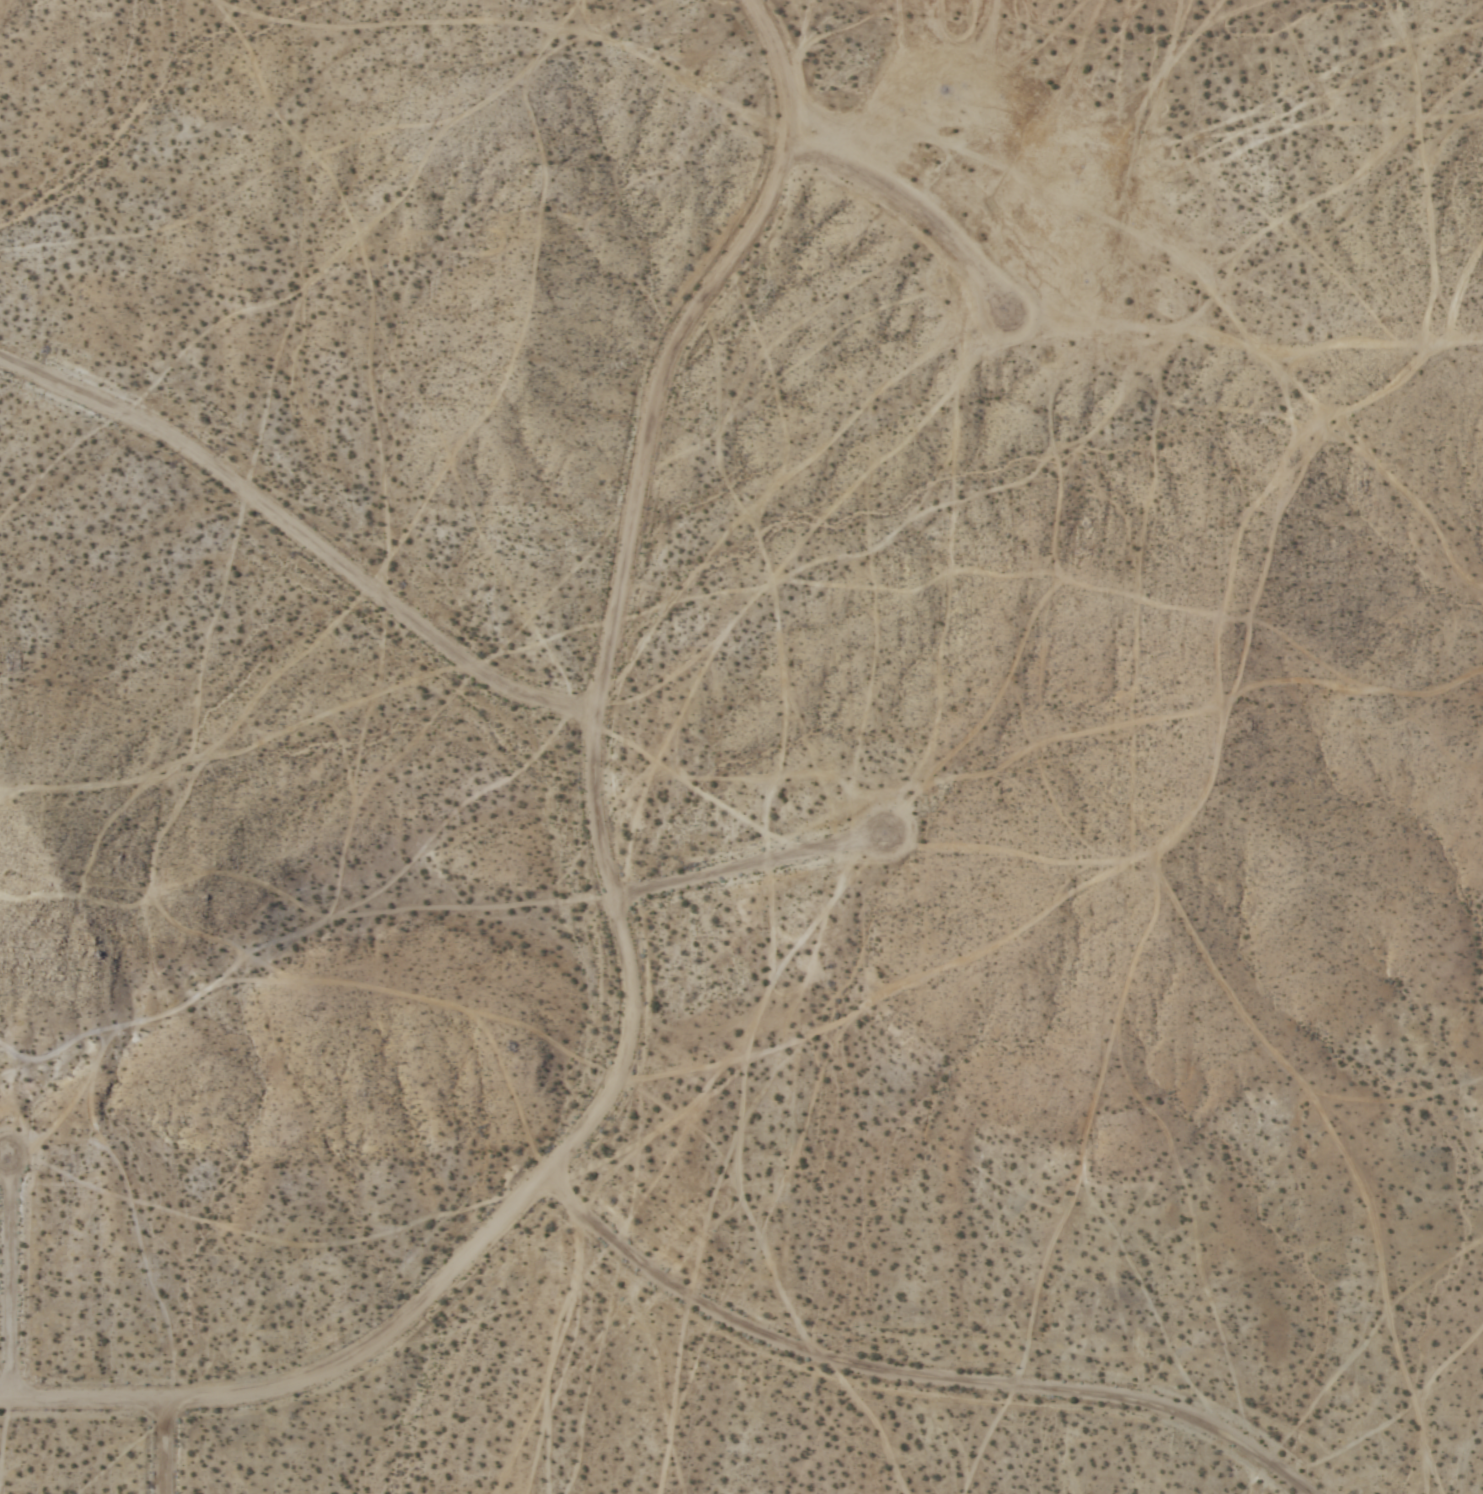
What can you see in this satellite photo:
road: (916, 216)
road: (302, 538)
road: (749, 867)
road: (612, 887)
road: (10, 1276)
road: (910, 1377)
road: (168, 1447)

